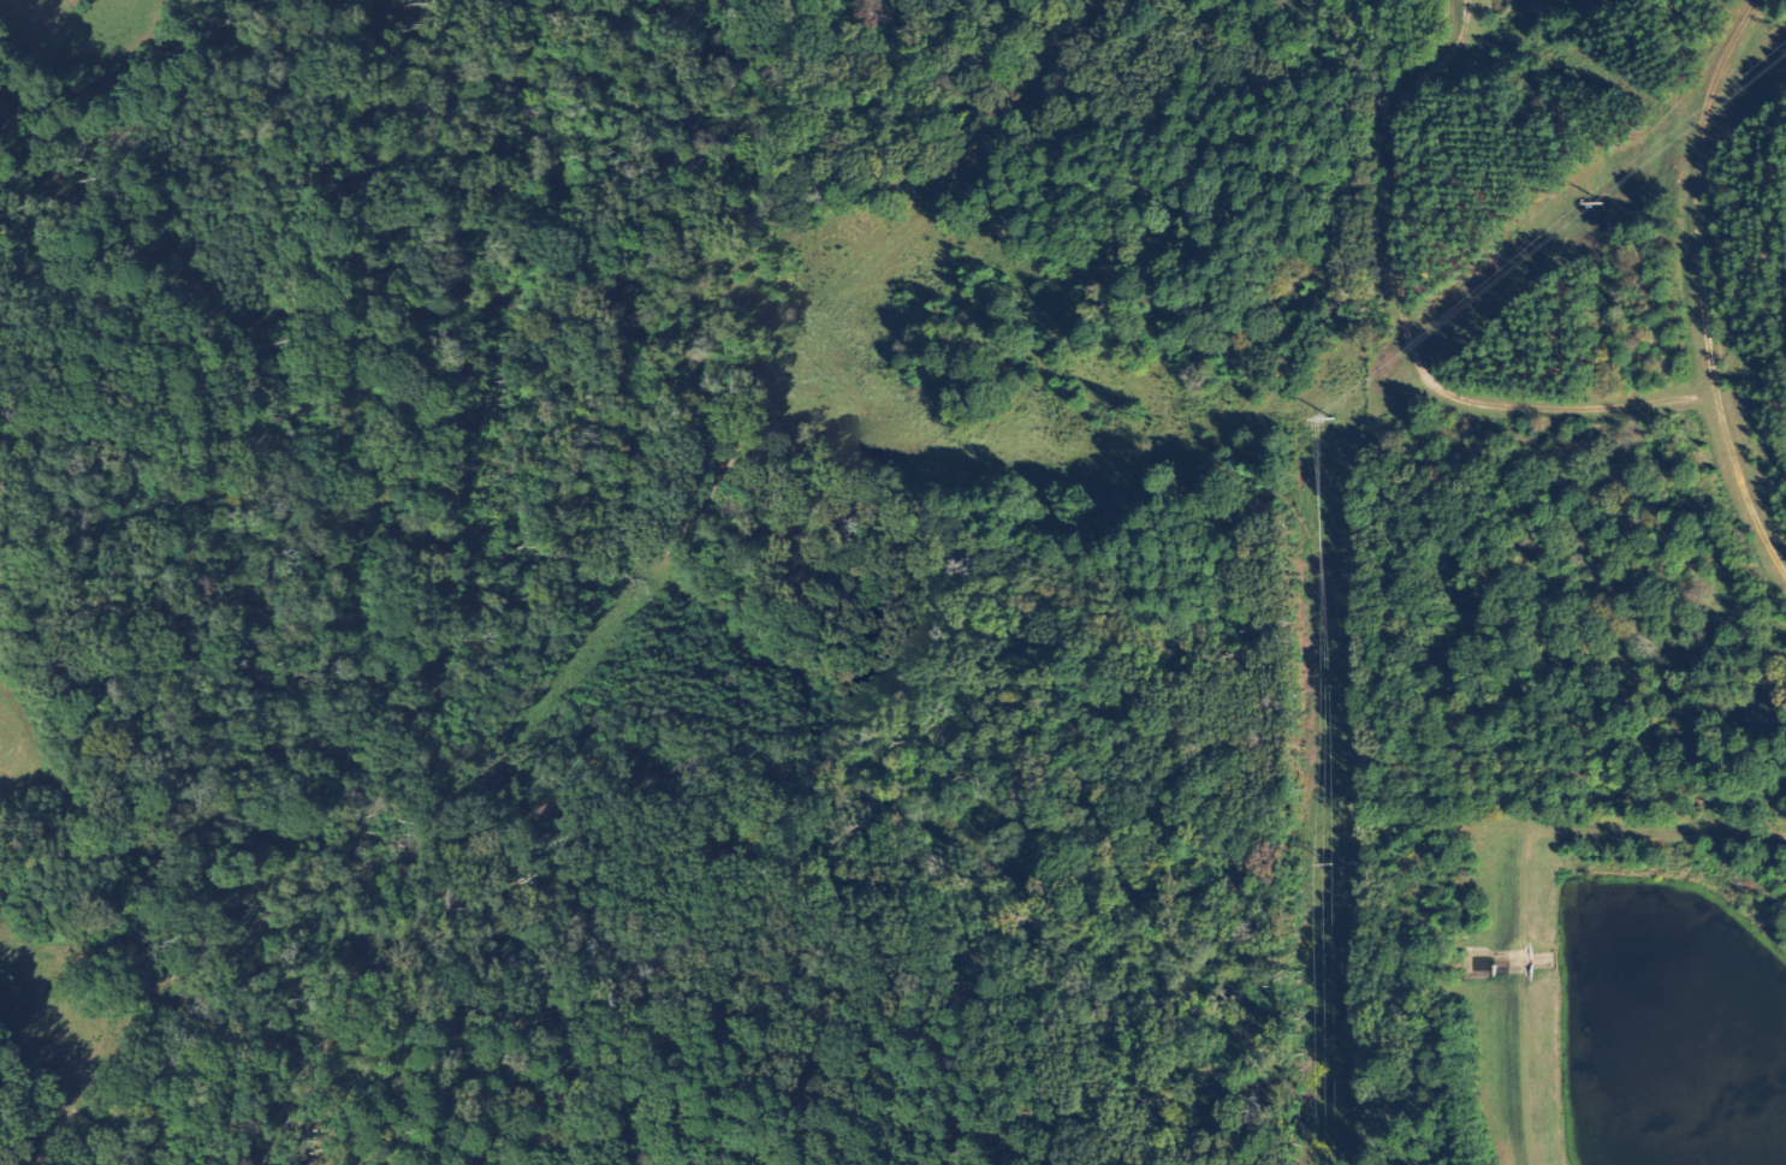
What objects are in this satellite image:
power tower: (1607, 201)
power tower: (1340, 416)
power tower: (1337, 863)

